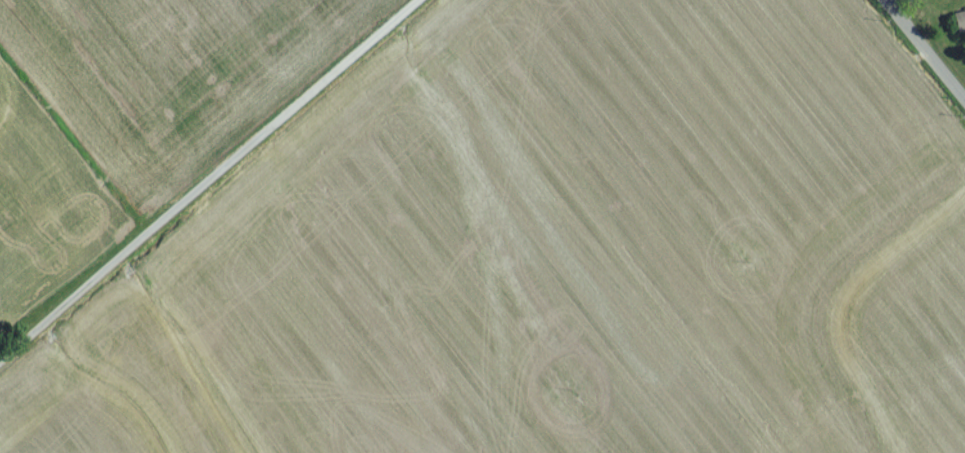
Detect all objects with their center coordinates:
building: (958, 26)
road: (921, 55)
road: (212, 182)

